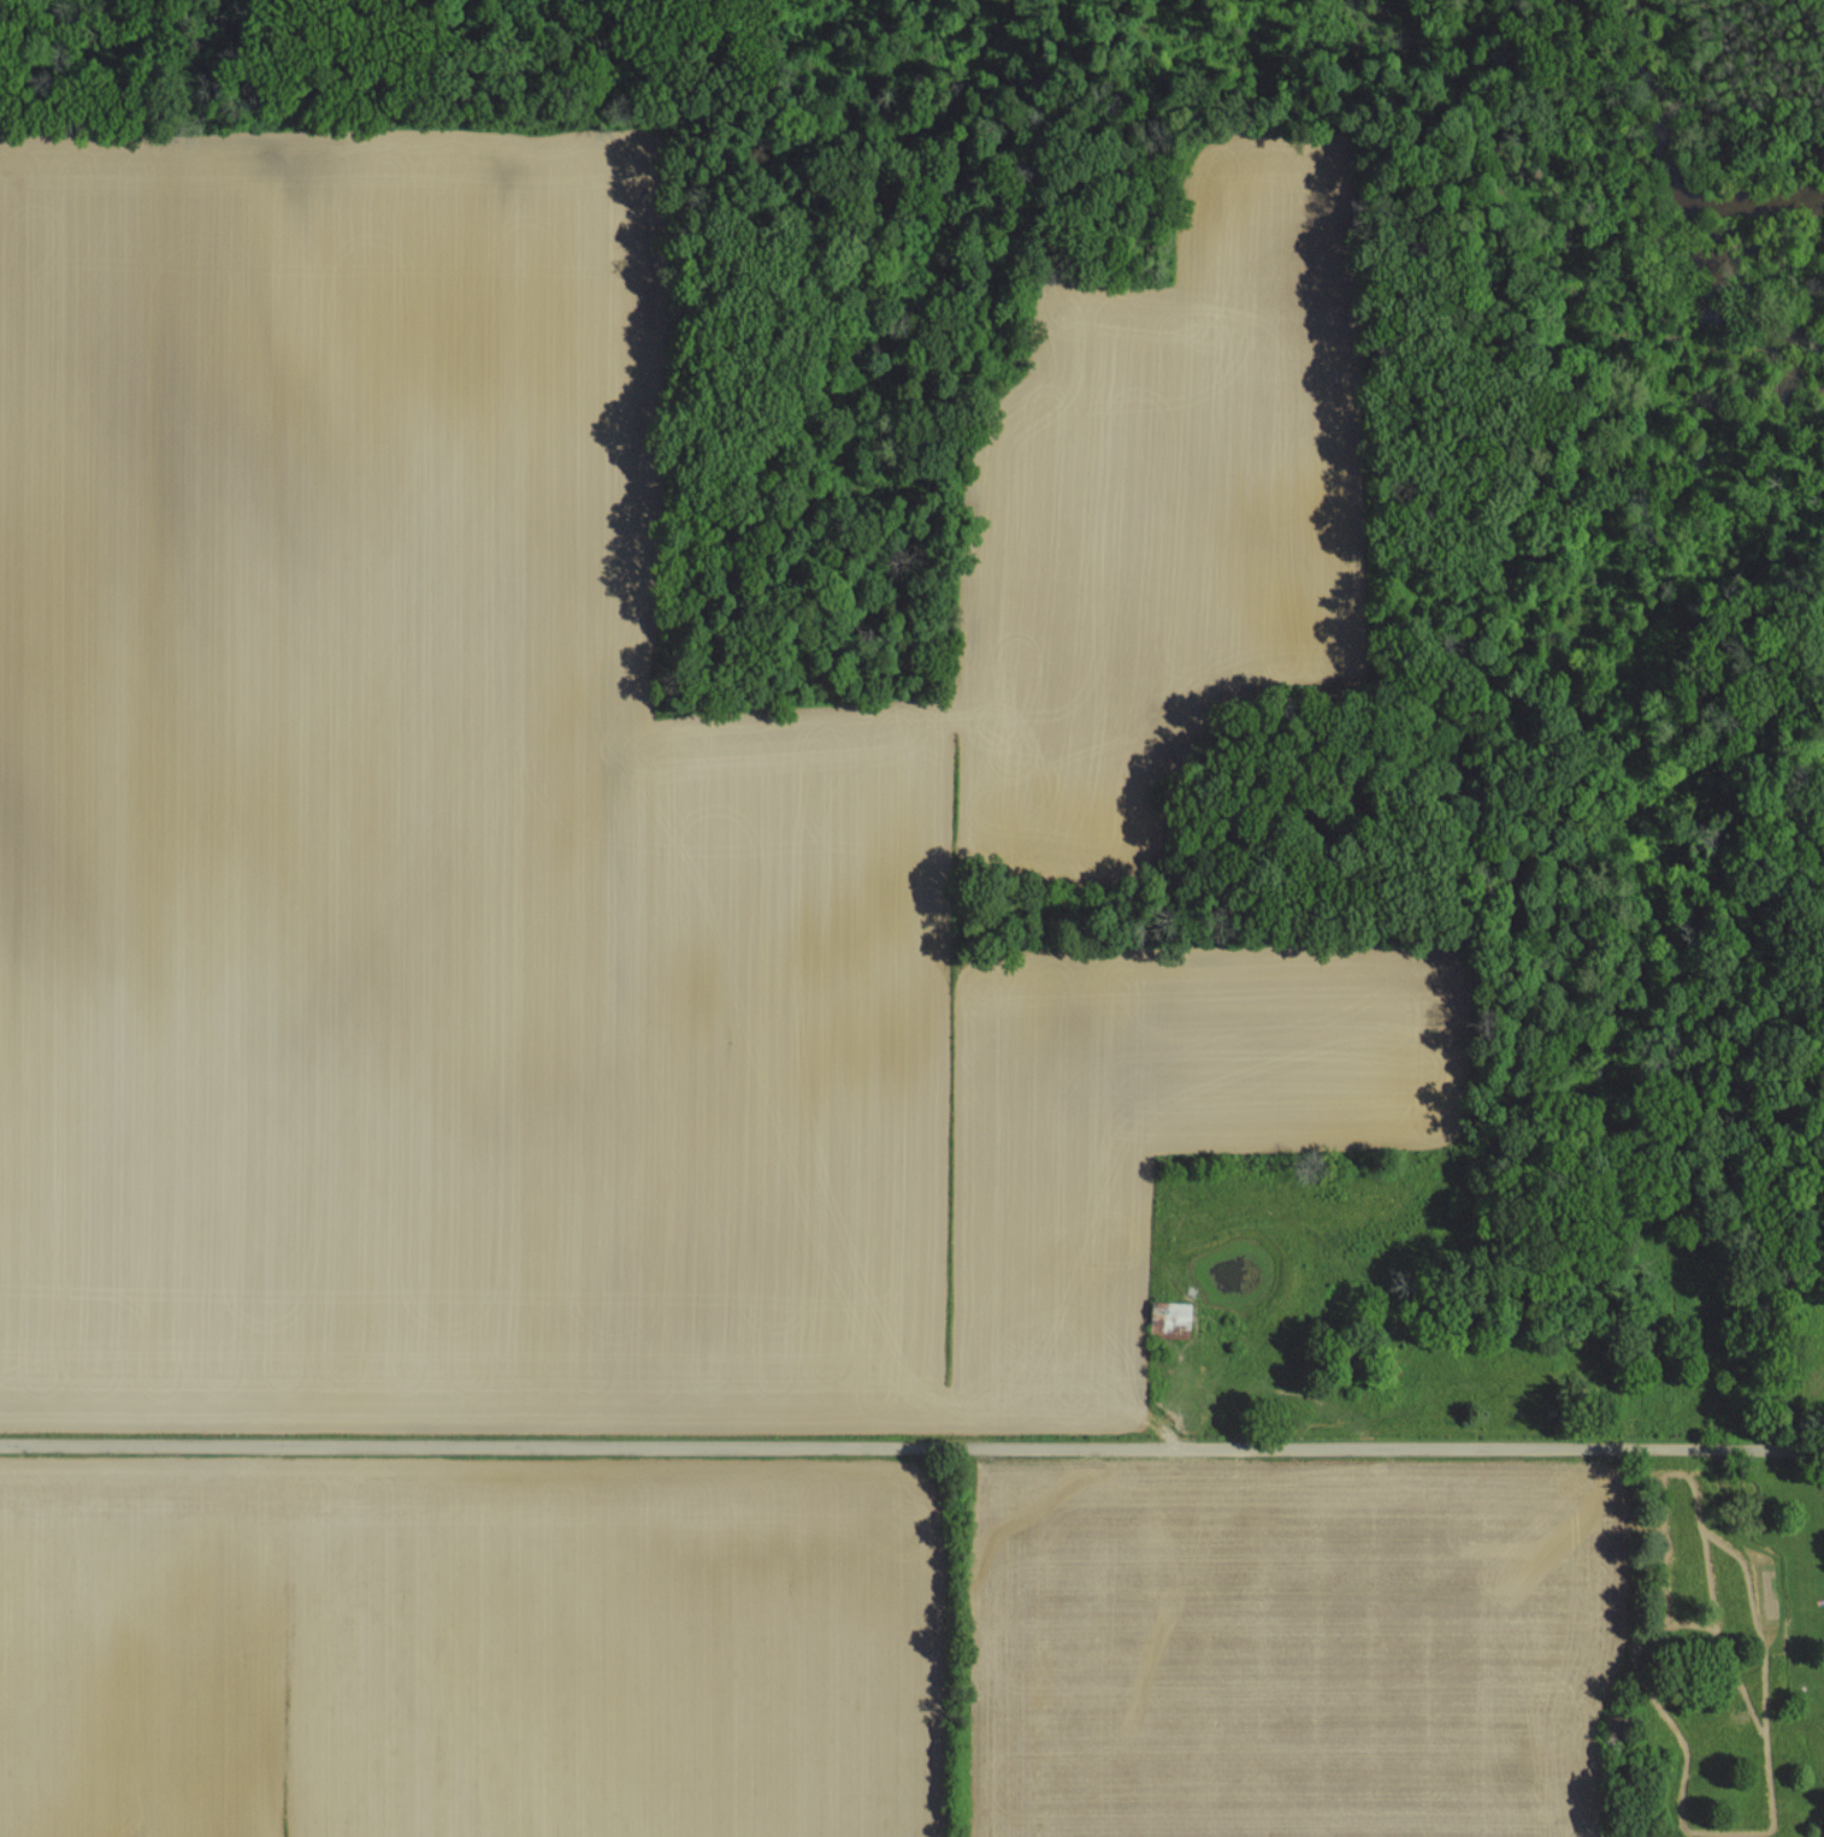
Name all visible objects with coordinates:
road: (911, 1465)

